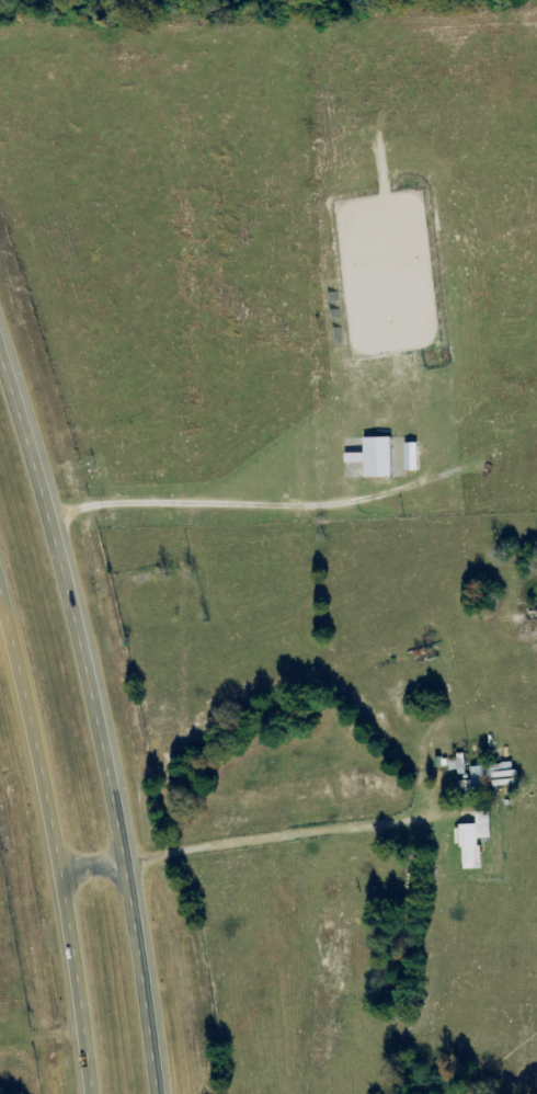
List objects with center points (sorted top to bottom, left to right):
road: (165, 345)
building: (375, 458)
building: (409, 464)
road: (100, 707)
building: (456, 765)
building: (490, 777)
road: (52, 833)
building: (472, 841)

